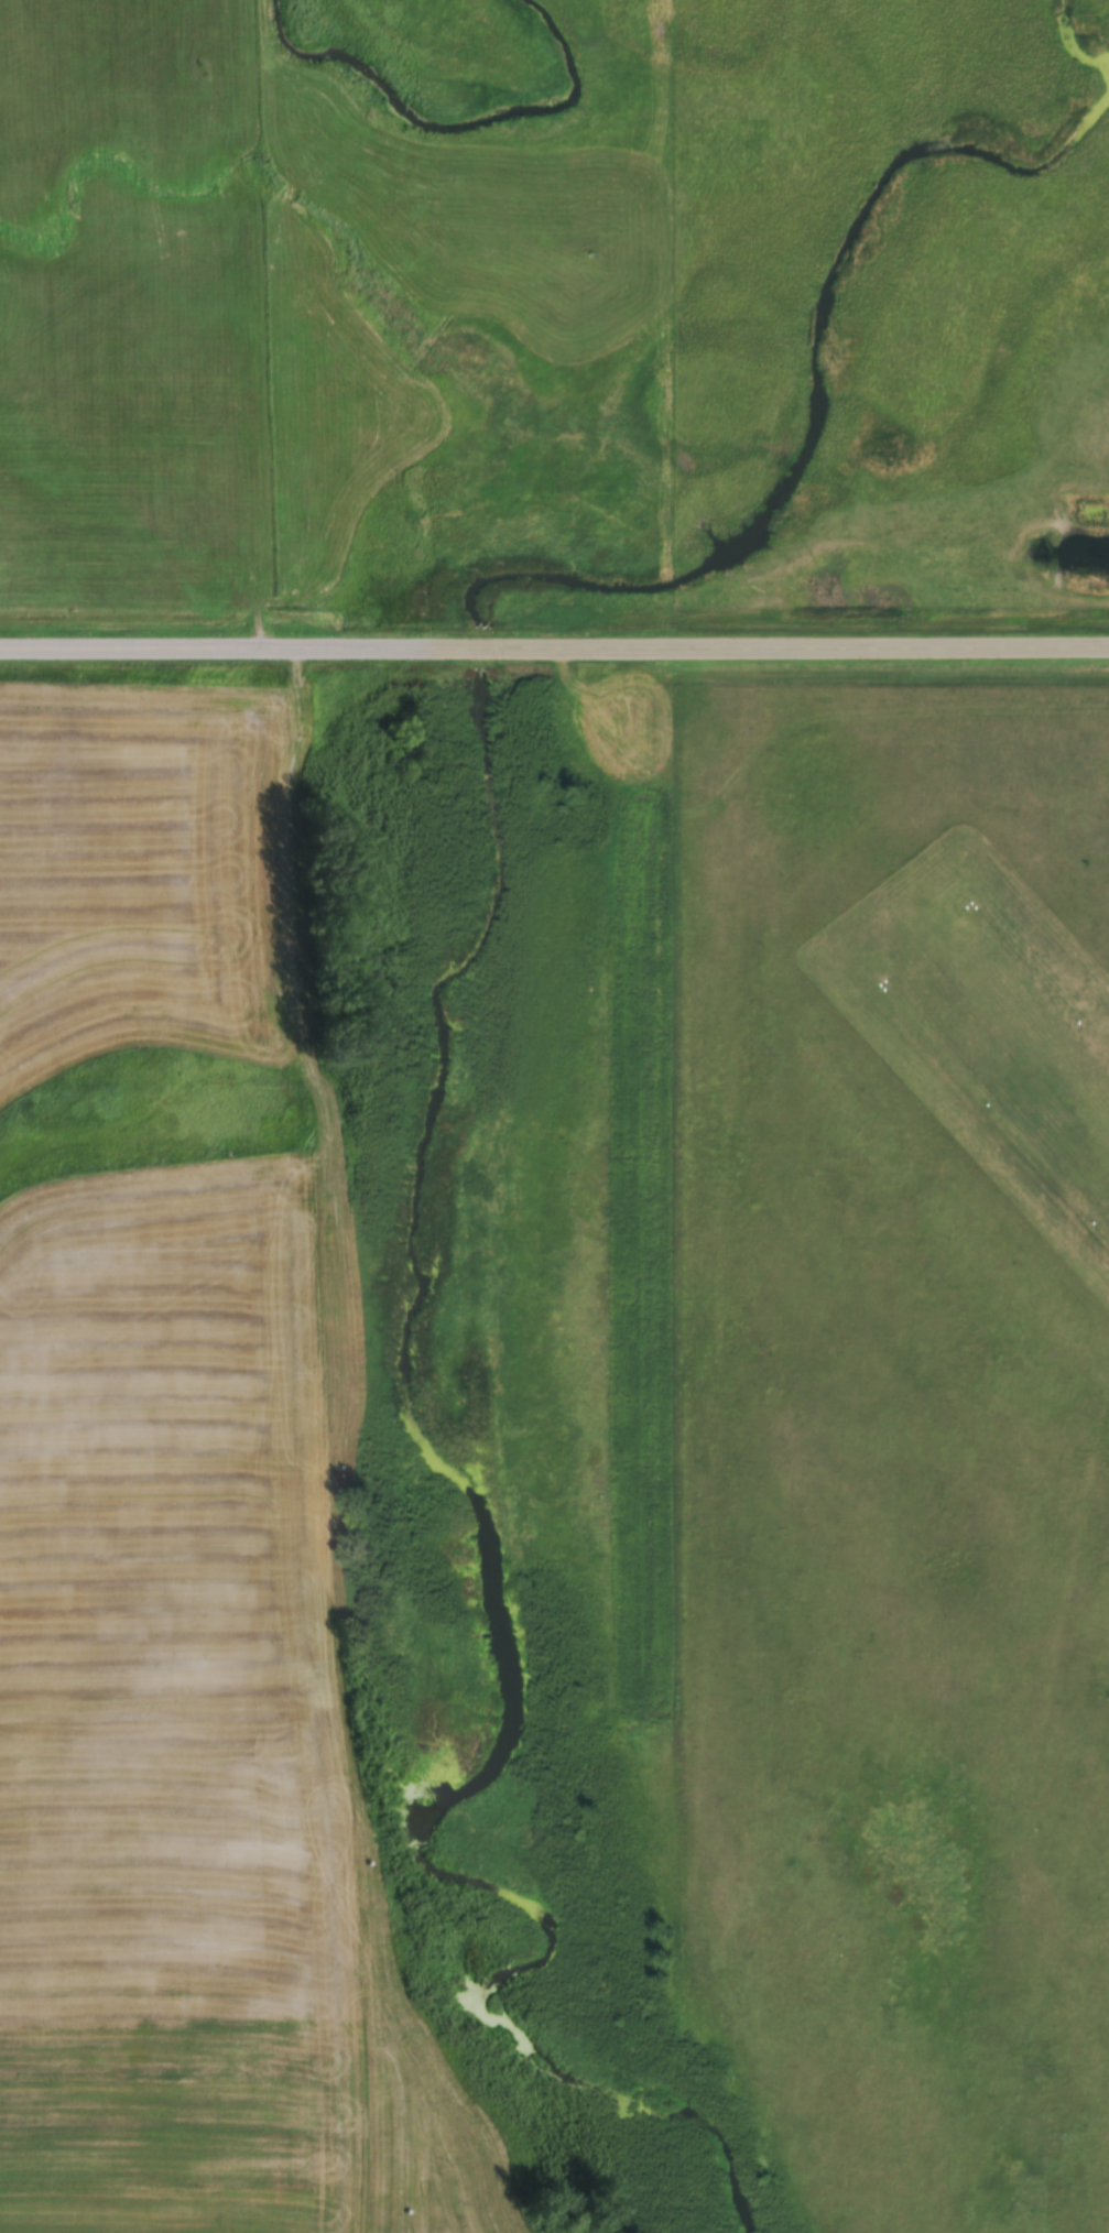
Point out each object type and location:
road: (554, 643)
airport runway: (1028, 1044)
airport: (890, 1453)

